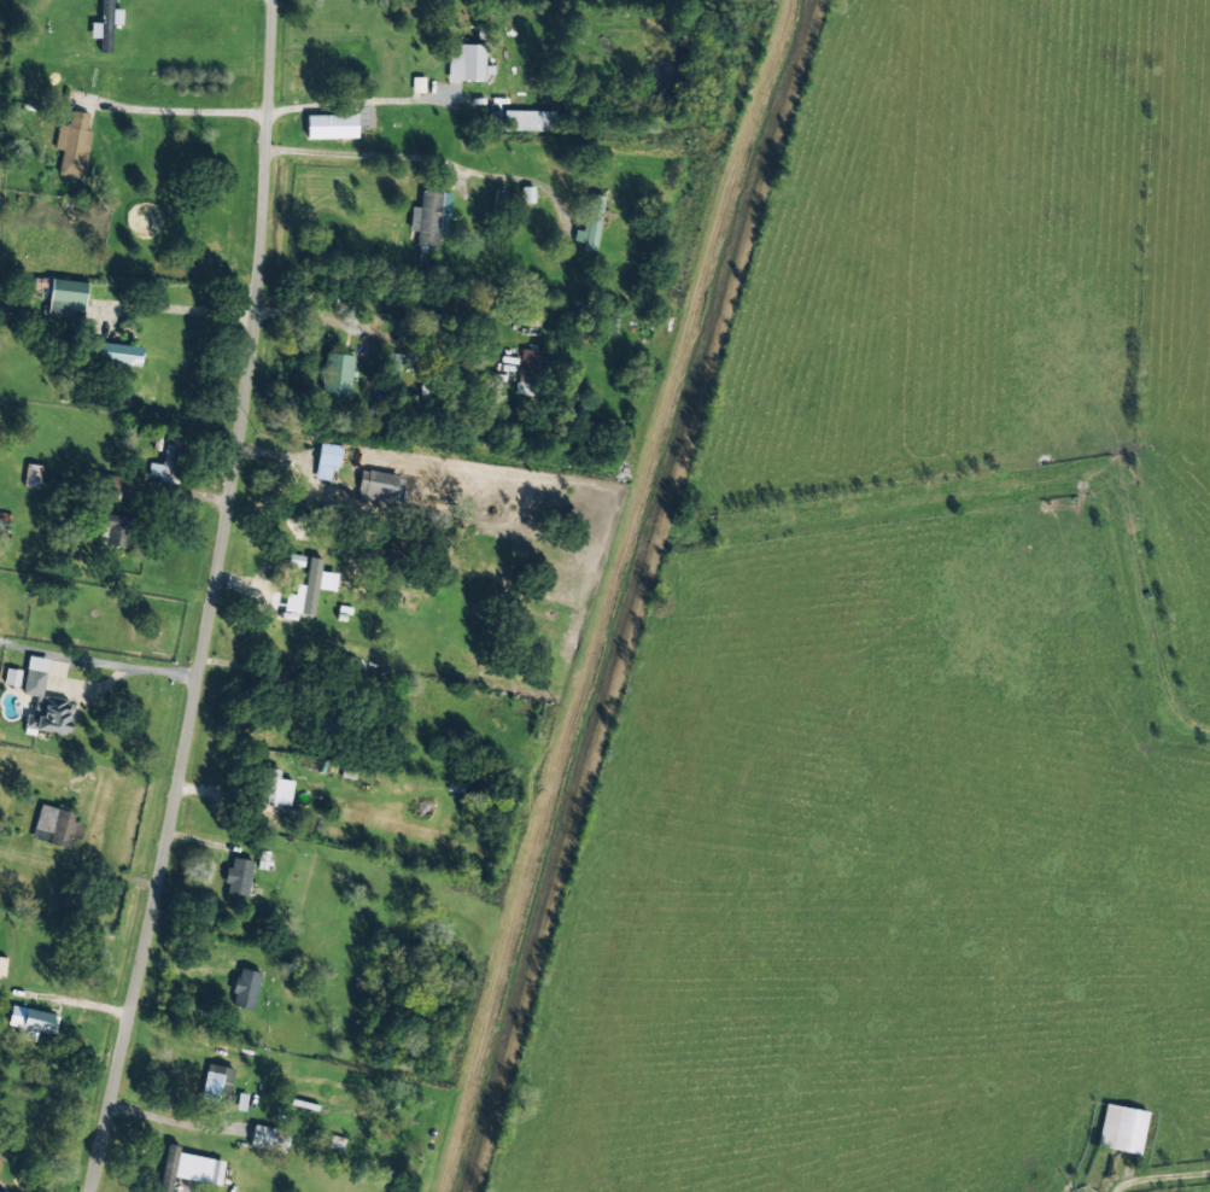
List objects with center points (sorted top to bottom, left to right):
building: (106, 25)
building: (466, 63)
road: (189, 111)
building: (74, 145)
building: (431, 217)
building: (591, 223)
building: (66, 298)
building: (119, 353)
building: (392, 366)
building: (528, 372)
building: (337, 374)
building: (327, 460)
building: (169, 462)
building: (31, 475)
building: (378, 485)
building: (5, 522)
building: (115, 532)
building: (309, 589)
road: (210, 598)
building: (12, 677)
building: (43, 701)
building: (275, 788)
building: (57, 826)
building: (238, 877)
building: (2, 966)
building: (245, 988)
building: (31, 1022)
building: (217, 1082)
building: (1122, 1129)
building: (269, 1139)
building: (189, 1168)

